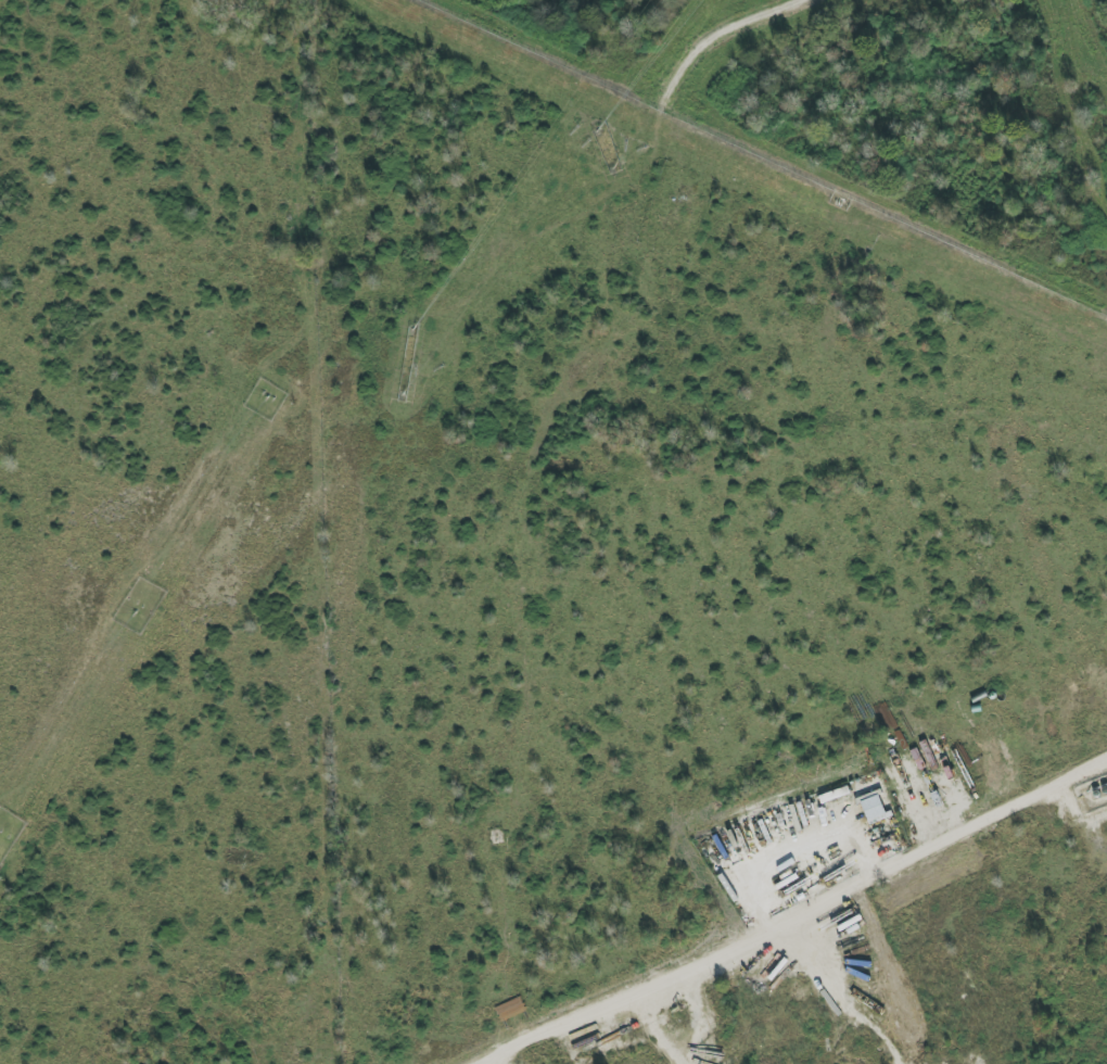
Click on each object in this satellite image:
building: (874, 809)
road: (797, 911)

